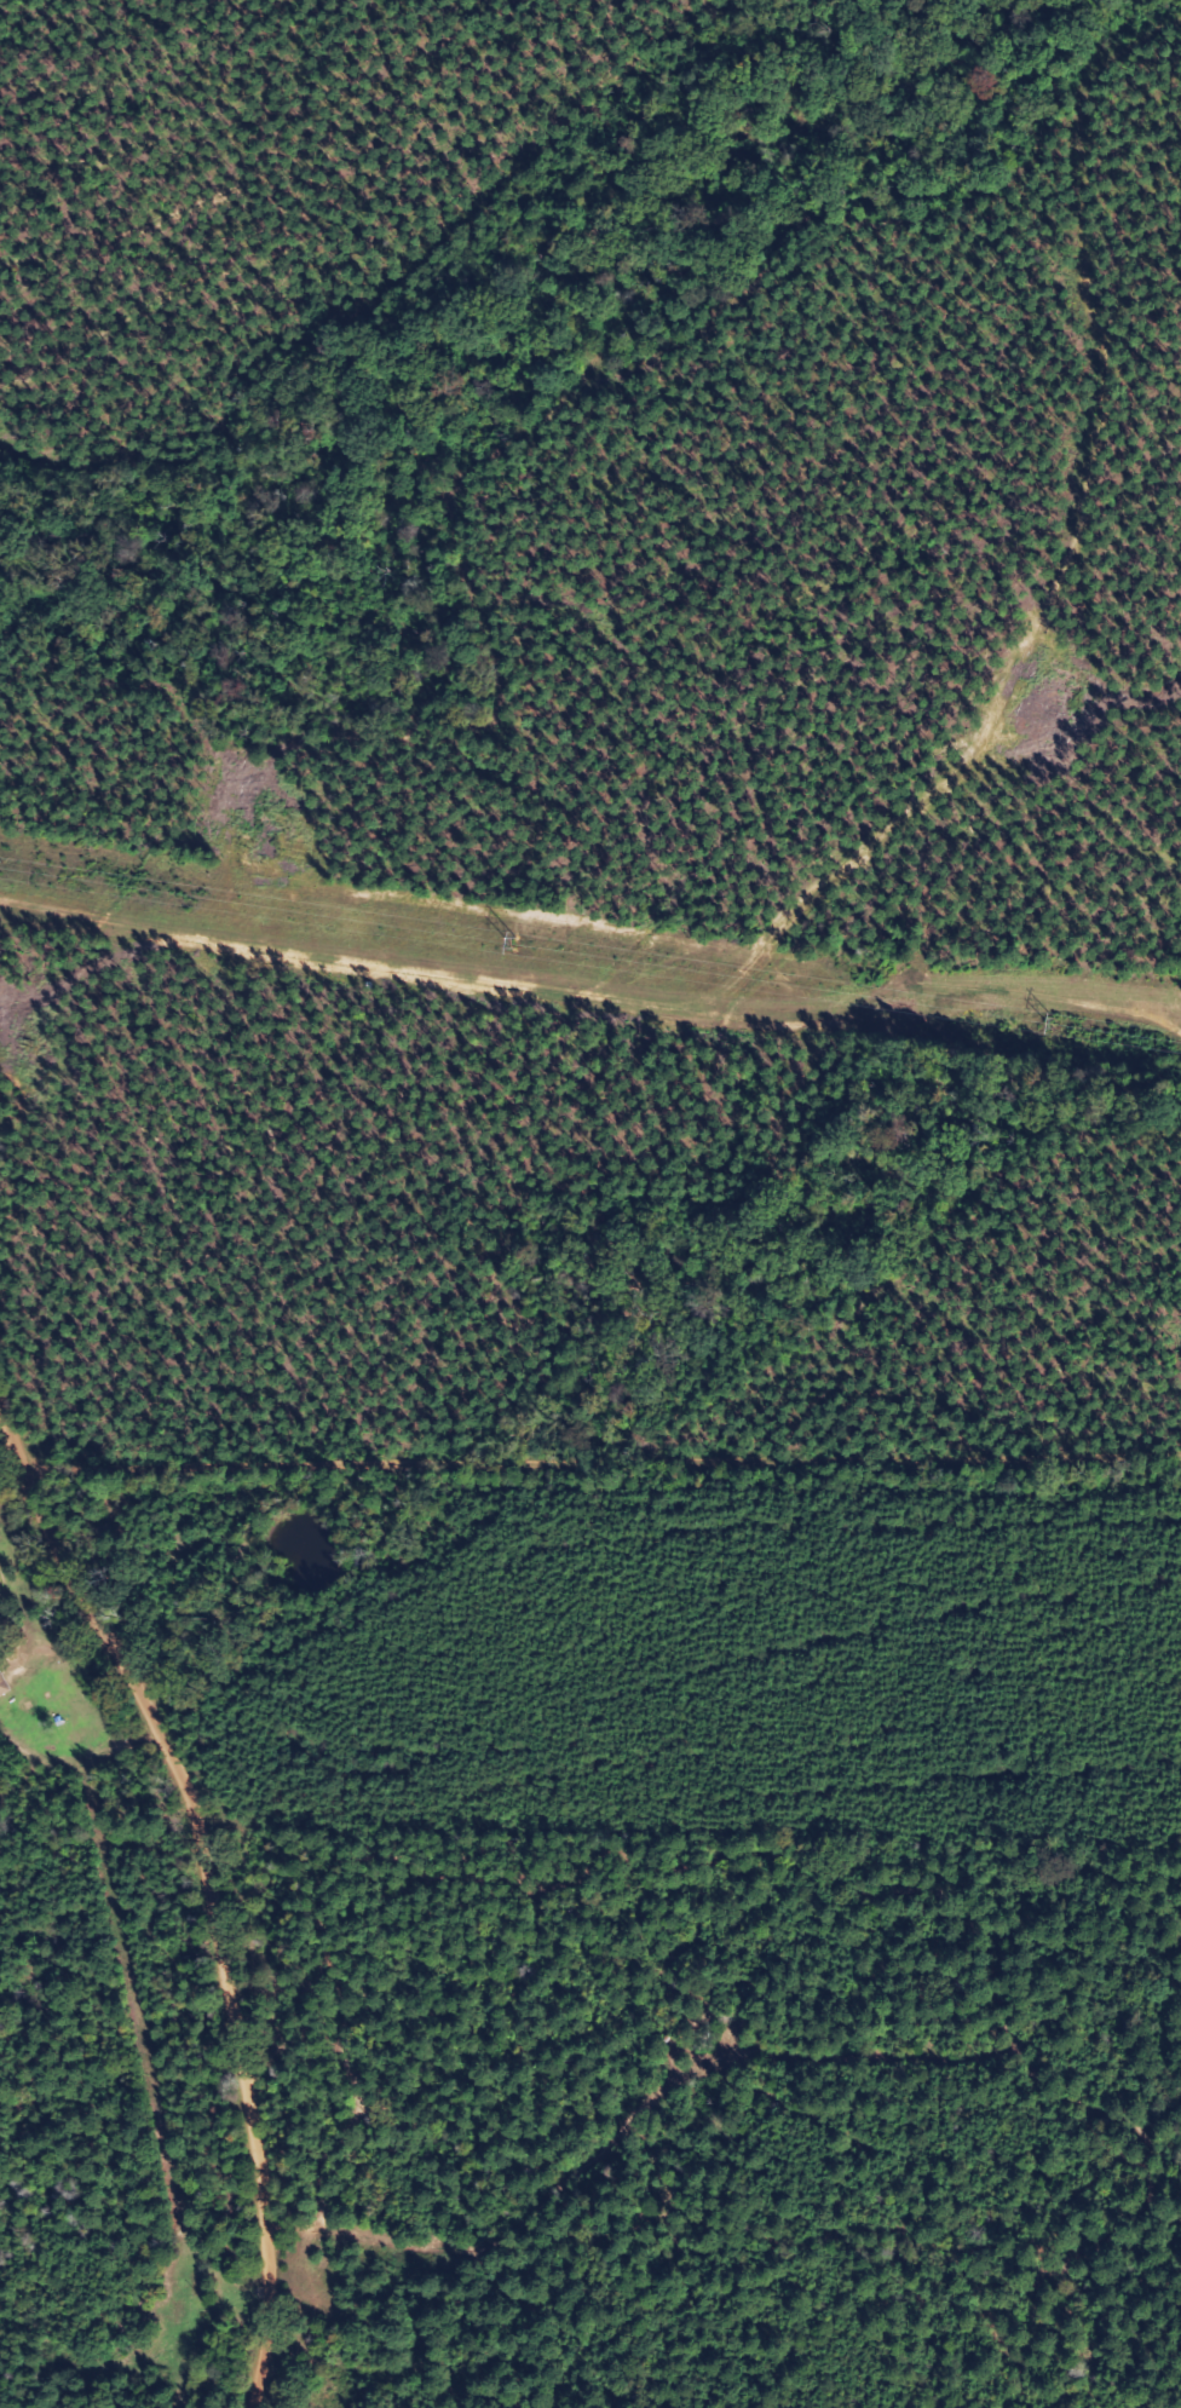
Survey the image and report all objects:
road: (618, 1459)
road: (209, 1888)

